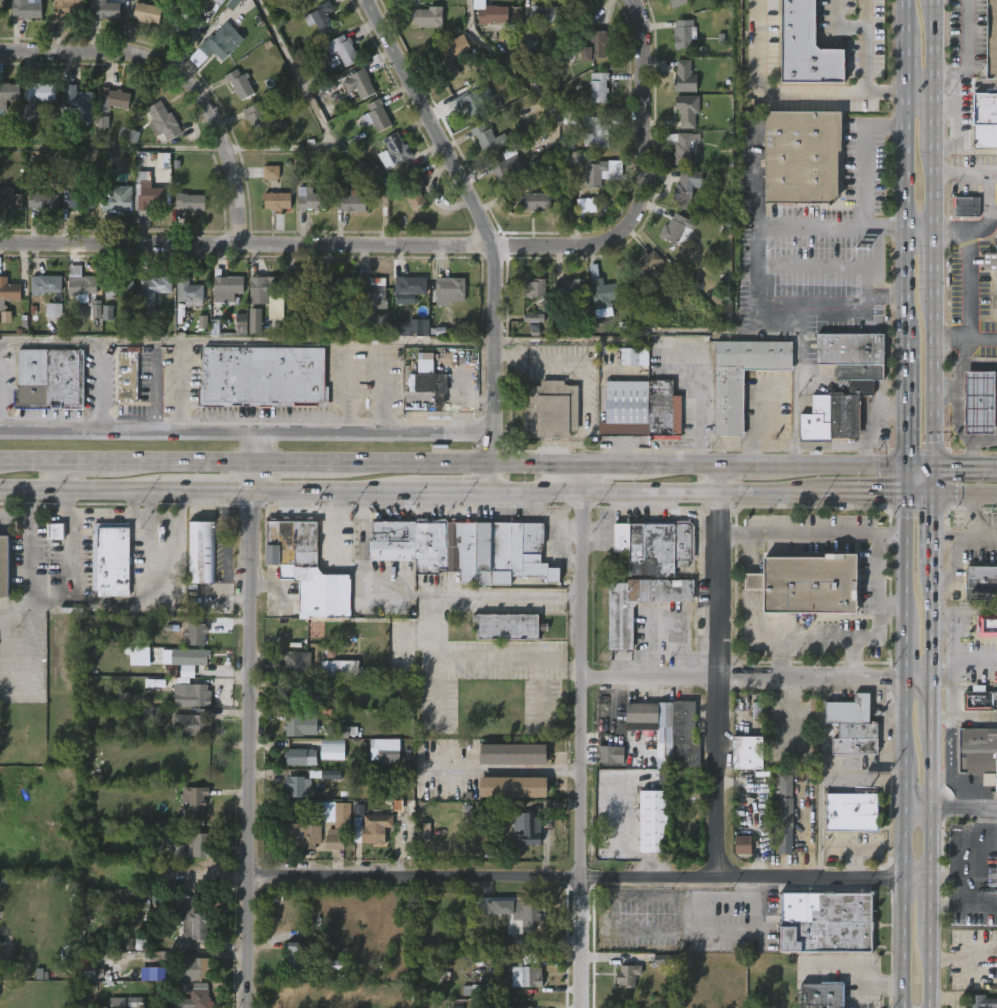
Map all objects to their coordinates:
building: (188, 1)
building: (219, 1)
building: (311, 2)
building: (677, 3)
building: (233, 4)
building: (24, 9)
building: (66, 9)
building: (106, 10)
building: (144, 13)
building: (543, 13)
building: (491, 14)
building: (427, 16)
building: (325, 18)
building: (186, 26)
building: (684, 33)
building: (991, 38)
building: (222, 43)
building: (594, 45)
building: (805, 46)
building: (530, 48)
road: (862, 48)
road: (935, 48)
building: (342, 50)
road: (959, 59)
building: (448, 65)
road: (640, 67)
road: (181, 74)
building: (684, 76)
building: (361, 83)
building: (238, 84)
building: (598, 86)
building: (41, 91)
building: (8, 94)
road: (761, 95)
road: (899, 96)
building: (112, 97)
building: (471, 102)
building: (76, 103)
building: (687, 111)
road: (947, 113)
building: (378, 115)
building: (569, 117)
building: (261, 119)
building: (103, 120)
road: (936, 120)
building: (163, 121)
building: (984, 121)
road: (324, 128)
road: (958, 128)
building: (596, 131)
building: (129, 134)
building: (487, 138)
building: (684, 145)
road: (282, 148)
building: (394, 151)
road: (861, 154)
building: (801, 157)
building: (126, 163)
building: (505, 166)
building: (543, 168)
road: (906, 169)
building: (271, 172)
road: (966, 172)
building: (594, 174)
building: (687, 184)
road: (936, 187)
building: (415, 192)
building: (83, 199)
building: (118, 199)
building: (148, 199)
building: (309, 199)
building: (10, 200)
building: (279, 200)
building: (347, 200)
building: (45, 201)
building: (192, 201)
building: (537, 201)
building: (586, 205)
building: (967, 206)
road: (845, 227)
building: (674, 228)
road: (970, 228)
road: (485, 232)
road: (609, 237)
road: (246, 246)
road: (936, 262)
building: (649, 263)
road: (835, 265)
building: (991, 269)
road: (866, 282)
building: (43, 283)
road: (966, 284)
building: (118, 286)
building: (228, 286)
building: (339, 286)
building: (409, 286)
building: (602, 286)
building: (80, 287)
building: (303, 287)
building: (570, 288)
building: (533, 289)
building: (452, 290)
road: (756, 290)
building: (8, 291)
building: (151, 291)
building: (188, 293)
building: (373, 294)
building: (265, 295)
building: (96, 309)
building: (54, 310)
building: (108, 313)
building: (6, 317)
road: (756, 317)
building: (533, 318)
building: (366, 320)
building: (255, 321)
building: (202, 322)
building: (241, 324)
building: (214, 327)
building: (411, 327)
road: (967, 338)
road: (248, 340)
building: (632, 356)
road: (539, 359)
road: (965, 365)
building: (126, 375)
building: (261, 377)
road: (957, 377)
building: (429, 379)
building: (47, 380)
road: (935, 381)
road: (795, 383)
road: (184, 386)
road: (346, 387)
building: (862, 388)
road: (97, 390)
road: (581, 397)
road: (905, 403)
building: (979, 403)
gas station: (979, 403)
building: (729, 404)
building: (550, 408)
road: (957, 408)
building: (639, 410)
road: (762, 424)
road: (248, 433)
road: (558, 438)
road: (972, 440)
road: (29, 461)
road: (81, 462)
road: (179, 462)
road: (293, 463)
road: (458, 463)
road: (609, 464)
road: (674, 465)
road: (739, 465)
road: (833, 465)
traffic signals: (905, 466)
road: (918, 467)
traffic signals: (932, 468)
road: (964, 468)
road: (59, 475)
road: (254, 476)
road: (904, 479)
road: (932, 480)
road: (91, 488)
road: (218, 489)
road: (338, 489)
road: (459, 490)
road: (659, 491)
road: (863, 492)
traffic signals: (904, 493)
road: (918, 493)
traffic signals: (933, 493)
road: (965, 493)
road: (129, 510)
road: (15, 516)
road: (972, 520)
road: (933, 530)
building: (56, 532)
road: (810, 534)
road: (984, 534)
building: (462, 547)
road: (169, 549)
building: (201, 551)
road: (30, 553)
road: (752, 554)
road: (905, 557)
road: (957, 557)
building: (109, 559)
building: (2, 564)
building: (306, 568)
building: (648, 572)
road: (751, 580)
building: (981, 581)
building: (807, 582)
road: (404, 595)
road: (110, 601)
road: (889, 608)
building: (988, 623)
building: (506, 625)
road: (932, 625)
road: (750, 628)
building: (316, 630)
building: (196, 632)
road: (874, 632)
road: (905, 652)
building: (139, 656)
road: (507, 658)
road: (434, 660)
road: (779, 660)
road: (850, 660)
building: (299, 663)
building: (339, 669)
road: (715, 670)
building: (187, 679)
road: (742, 680)
road: (918, 682)
building: (302, 697)
building: (977, 699)
road: (931, 707)
building: (758, 710)
building: (151, 715)
road: (790, 717)
building: (193, 722)
road: (905, 722)
building: (303, 723)
building: (852, 726)
road: (822, 729)
building: (666, 730)
building: (343, 732)
road: (576, 735)
road: (252, 748)
building: (330, 749)
building: (384, 750)
building: (747, 752)
building: (973, 752)
building: (510, 753)
building: (609, 754)
building: (299, 757)
building: (331, 775)
road: (866, 777)
road: (495, 783)
road: (904, 785)
building: (296, 786)
building: (513, 787)
building: (194, 798)
building: (507, 801)
road: (930, 805)
road: (917, 807)
road: (963, 807)
building: (330, 812)
building: (851, 812)
building: (655, 822)
building: (782, 825)
building: (371, 826)
building: (425, 830)
building: (530, 832)
road: (803, 832)
building: (301, 836)
road: (991, 837)
building: (334, 839)
building: (743, 845)
building: (197, 848)
building: (178, 851)
road: (980, 865)
road: (57, 874)
road: (591, 888)
road: (970, 891)
road: (963, 905)
road: (903, 907)
road: (930, 907)
building: (513, 911)
building: (822, 921)
building: (198, 924)
road: (621, 935)
building: (83, 945)
building: (296, 956)
building: (86, 964)
building: (342, 965)
building: (199, 968)
building: (996, 970)
road: (929, 972)
building: (157, 975)
building: (529, 975)
building: (626, 975)
road: (863, 976)
building: (195, 994)
building: (820, 995)
building: (980, 1001)
building: (117, 1002)
building: (135, 1002)
building: (523, 1007)

